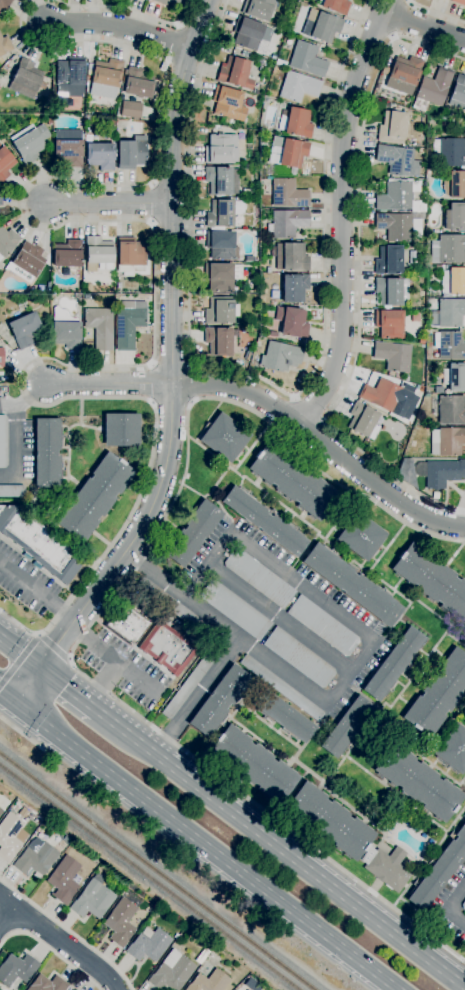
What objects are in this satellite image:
building: (173, 1)
building: (459, 2)
building: (4, 3)
building: (335, 6)
building: (258, 8)
road: (129, 11)
road: (436, 12)
road: (400, 18)
building: (321, 26)
road: (423, 26)
road: (120, 27)
building: (251, 35)
road: (69, 41)
building: (4, 45)
building: (307, 59)
building: (70, 71)
building: (235, 73)
building: (404, 74)
building: (106, 78)
building: (25, 79)
building: (138, 84)
building: (298, 87)
building: (432, 89)
building: (458, 93)
building: (228, 103)
building: (130, 110)
building: (298, 122)
building: (393, 127)
building: (29, 142)
building: (221, 149)
building: (421, 151)
building: (67, 152)
building: (131, 152)
building: (450, 152)
building: (288, 153)
building: (100, 156)
building: (398, 160)
building: (5, 164)
building: (218, 180)
building: (453, 184)
building: (249, 192)
building: (288, 194)
building: (395, 196)
road: (108, 203)
building: (222, 213)
road: (342, 215)
building: (455, 217)
building: (287, 223)
building: (399, 226)
building: (7, 241)
building: (221, 245)
building: (448, 249)
building: (98, 251)
building: (66, 254)
building: (130, 256)
building: (291, 257)
building: (249, 259)
building: (388, 260)
building: (27, 262)
road: (358, 275)
building: (221, 276)
building: (453, 282)
building: (294, 288)
building: (388, 291)
building: (422, 302)
building: (220, 311)
building: (447, 313)
building: (292, 322)
building: (128, 323)
building: (388, 324)
building: (100, 327)
building: (65, 329)
building: (24, 330)
building: (273, 334)
building: (218, 341)
building: (421, 341)
building: (449, 345)
building: (392, 356)
building: (1, 357)
building: (281, 357)
road: (129, 364)
road: (171, 374)
building: (454, 377)
road: (263, 382)
road: (109, 383)
road: (29, 393)
building: (388, 396)
road: (8, 407)
road: (310, 409)
building: (448, 409)
building: (363, 420)
building: (121, 430)
building: (224, 437)
building: (446, 441)
building: (3, 442)
road: (322, 444)
road: (16, 450)
building: (47, 453)
building: (403, 470)
building: (440, 472)
building: (293, 481)
building: (12, 491)
building: (435, 495)
building: (94, 497)
building: (264, 521)
building: (192, 534)
building: (361, 536)
building: (39, 544)
road: (210, 562)
road: (154, 574)
building: (258, 578)
building: (432, 580)
road: (309, 581)
parking lot: (25, 582)
building: (353, 585)
road: (36, 592)
building: (171, 605)
building: (235, 610)
road: (99, 612)
parking lot: (280, 619)
road: (281, 620)
building: (127, 624)
building: (322, 626)
road: (53, 645)
building: (166, 648)
road: (19, 655)
road: (113, 657)
building: (299, 658)
road: (18, 659)
building: (393, 664)
parking lot: (124, 668)
traffic signals: (40, 670)
road: (217, 670)
road: (355, 674)
road: (282, 677)
road: (105, 684)
building: (187, 685)
building: (282, 688)
road: (68, 690)
building: (438, 695)
building: (219, 701)
road: (7, 702)
traffic signals: (14, 708)
building: (284, 716)
building: (346, 727)
road: (23, 734)
building: (452, 749)
building: (253, 764)
building: (418, 782)
building: (0, 809)
building: (0, 811)
building: (26, 818)
building: (329, 821)
building: (10, 837)
road: (280, 846)
road: (202, 849)
building: (35, 858)
building: (386, 867)
railway: (157, 870)
building: (439, 870)
railway: (150, 875)
building: (64, 879)
building: (92, 898)
road: (456, 899)
road: (8, 902)
building: (463, 906)
road: (7, 916)
road: (456, 917)
road: (33, 921)
building: (120, 922)
road: (7, 927)
road: (69, 931)
building: (149, 946)
road: (68, 947)
road: (50, 951)
building: (202, 956)
building: (16, 969)
building: (171, 972)
building: (209, 982)
building: (47, 984)

